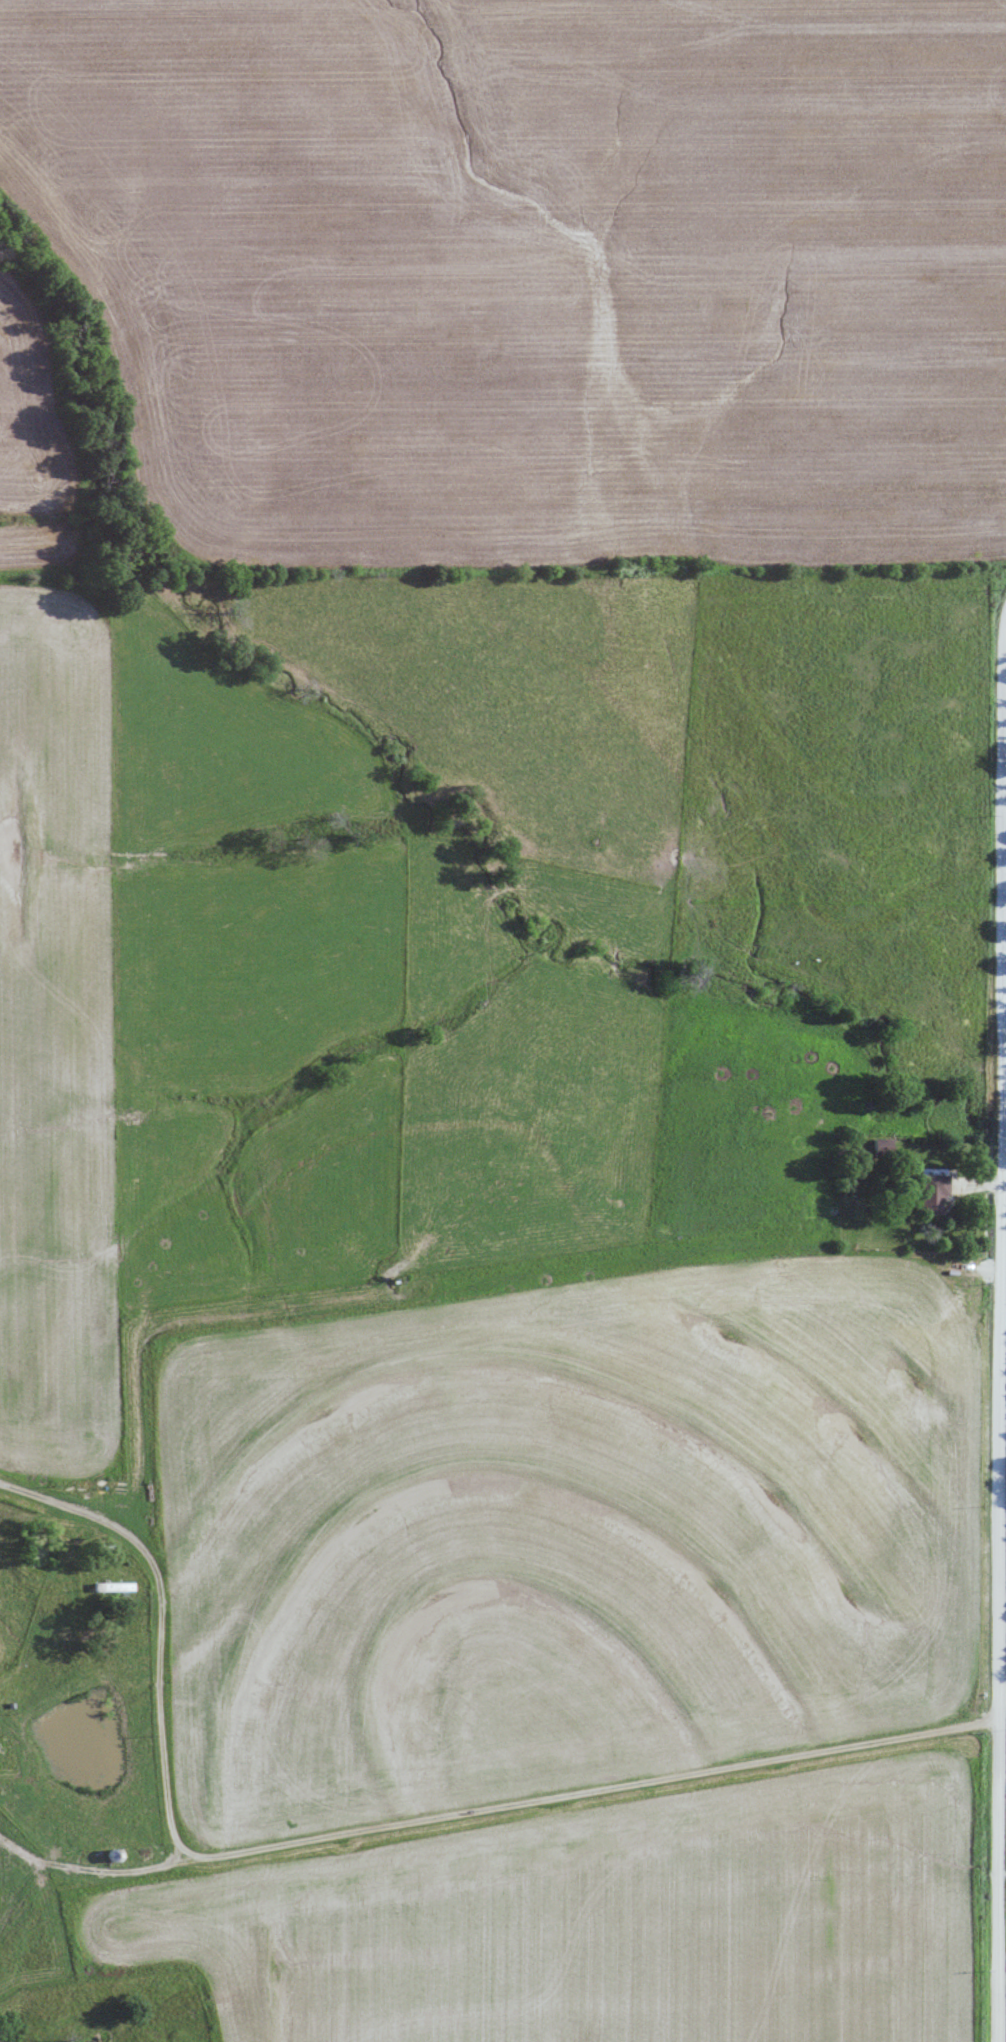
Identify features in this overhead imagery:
road: (1002, 1329)
building: (112, 1586)
road: (489, 1810)

